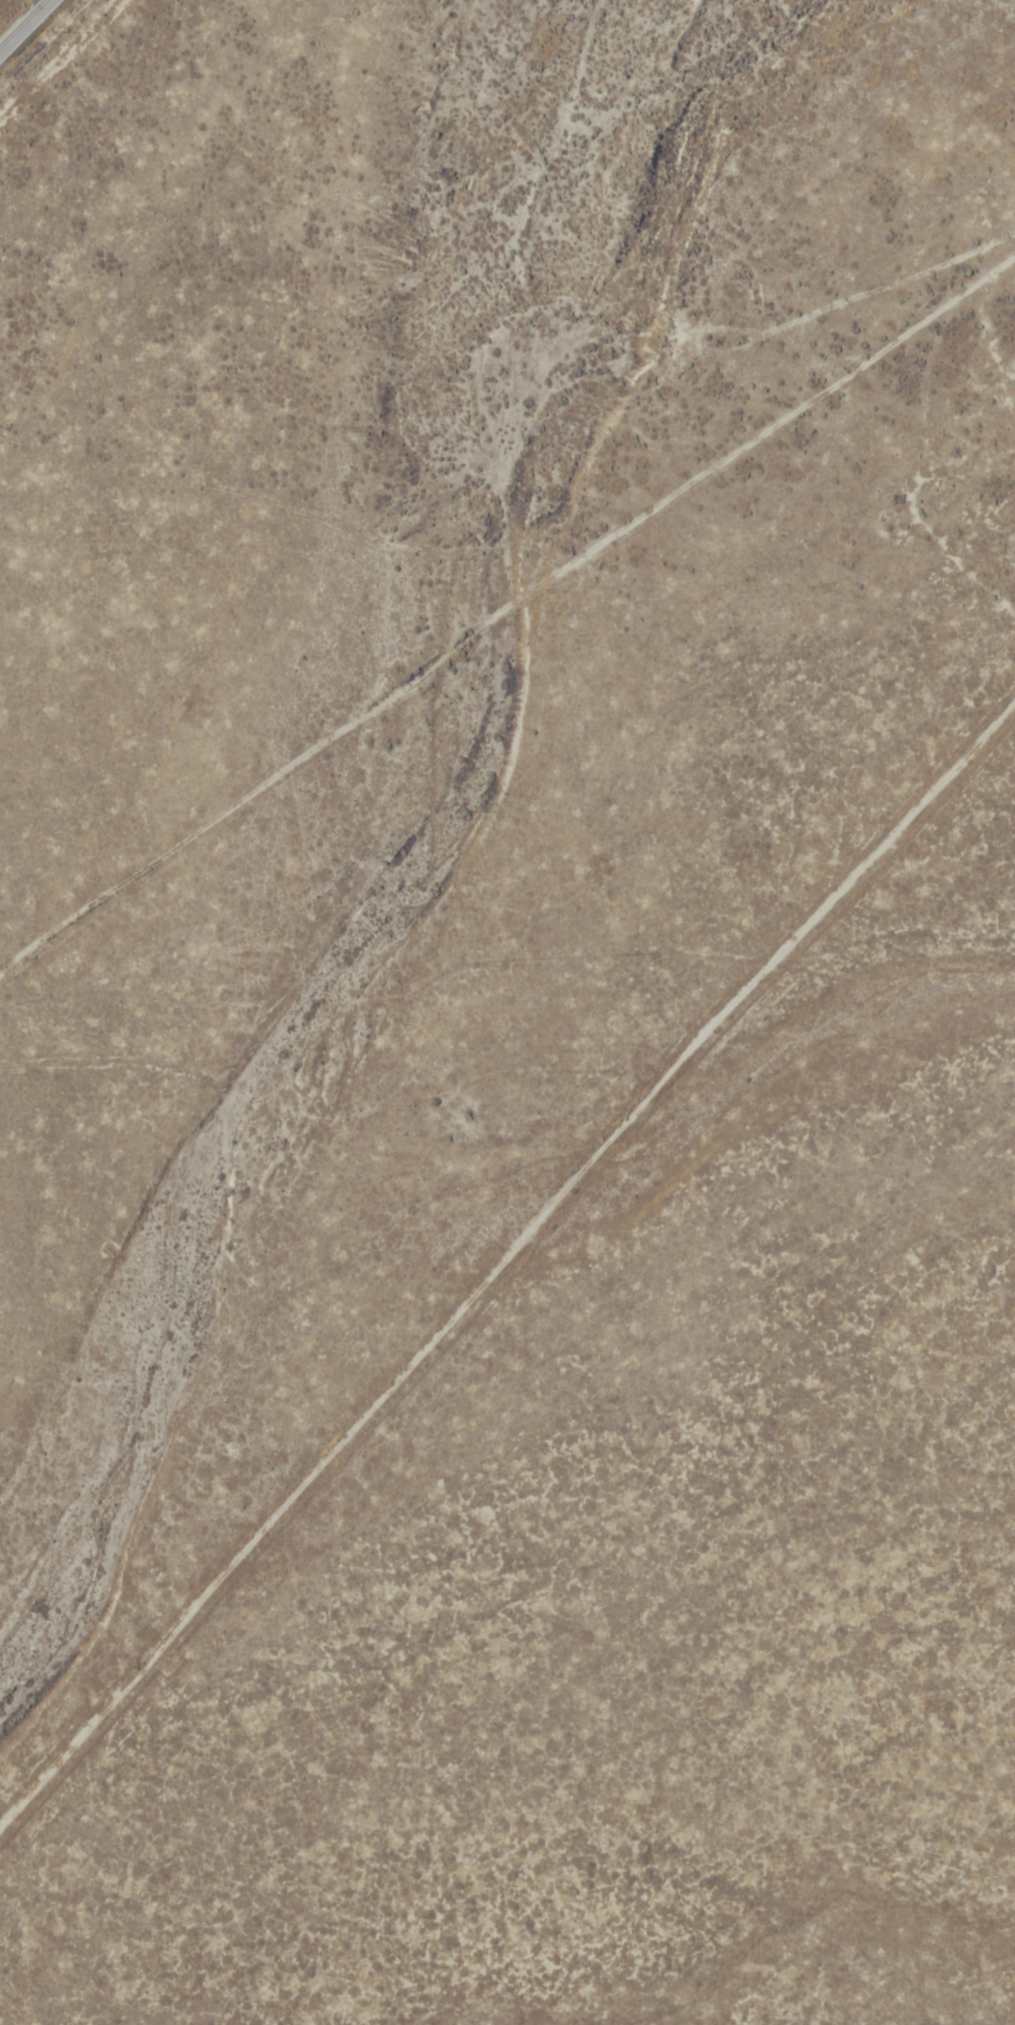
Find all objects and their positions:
road: (27, 27)
road: (510, 632)
road: (507, 1292)

